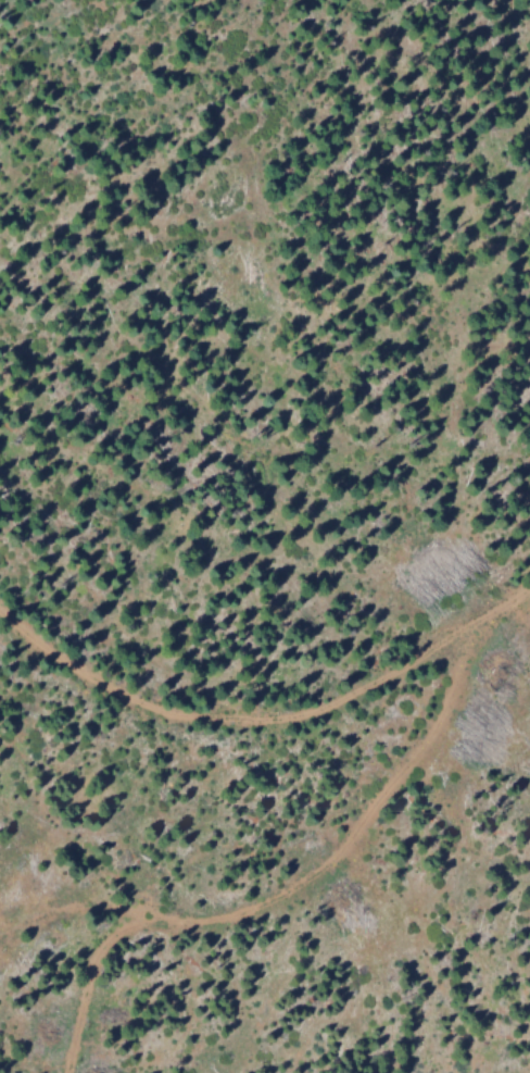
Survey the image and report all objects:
road: (267, 718)

